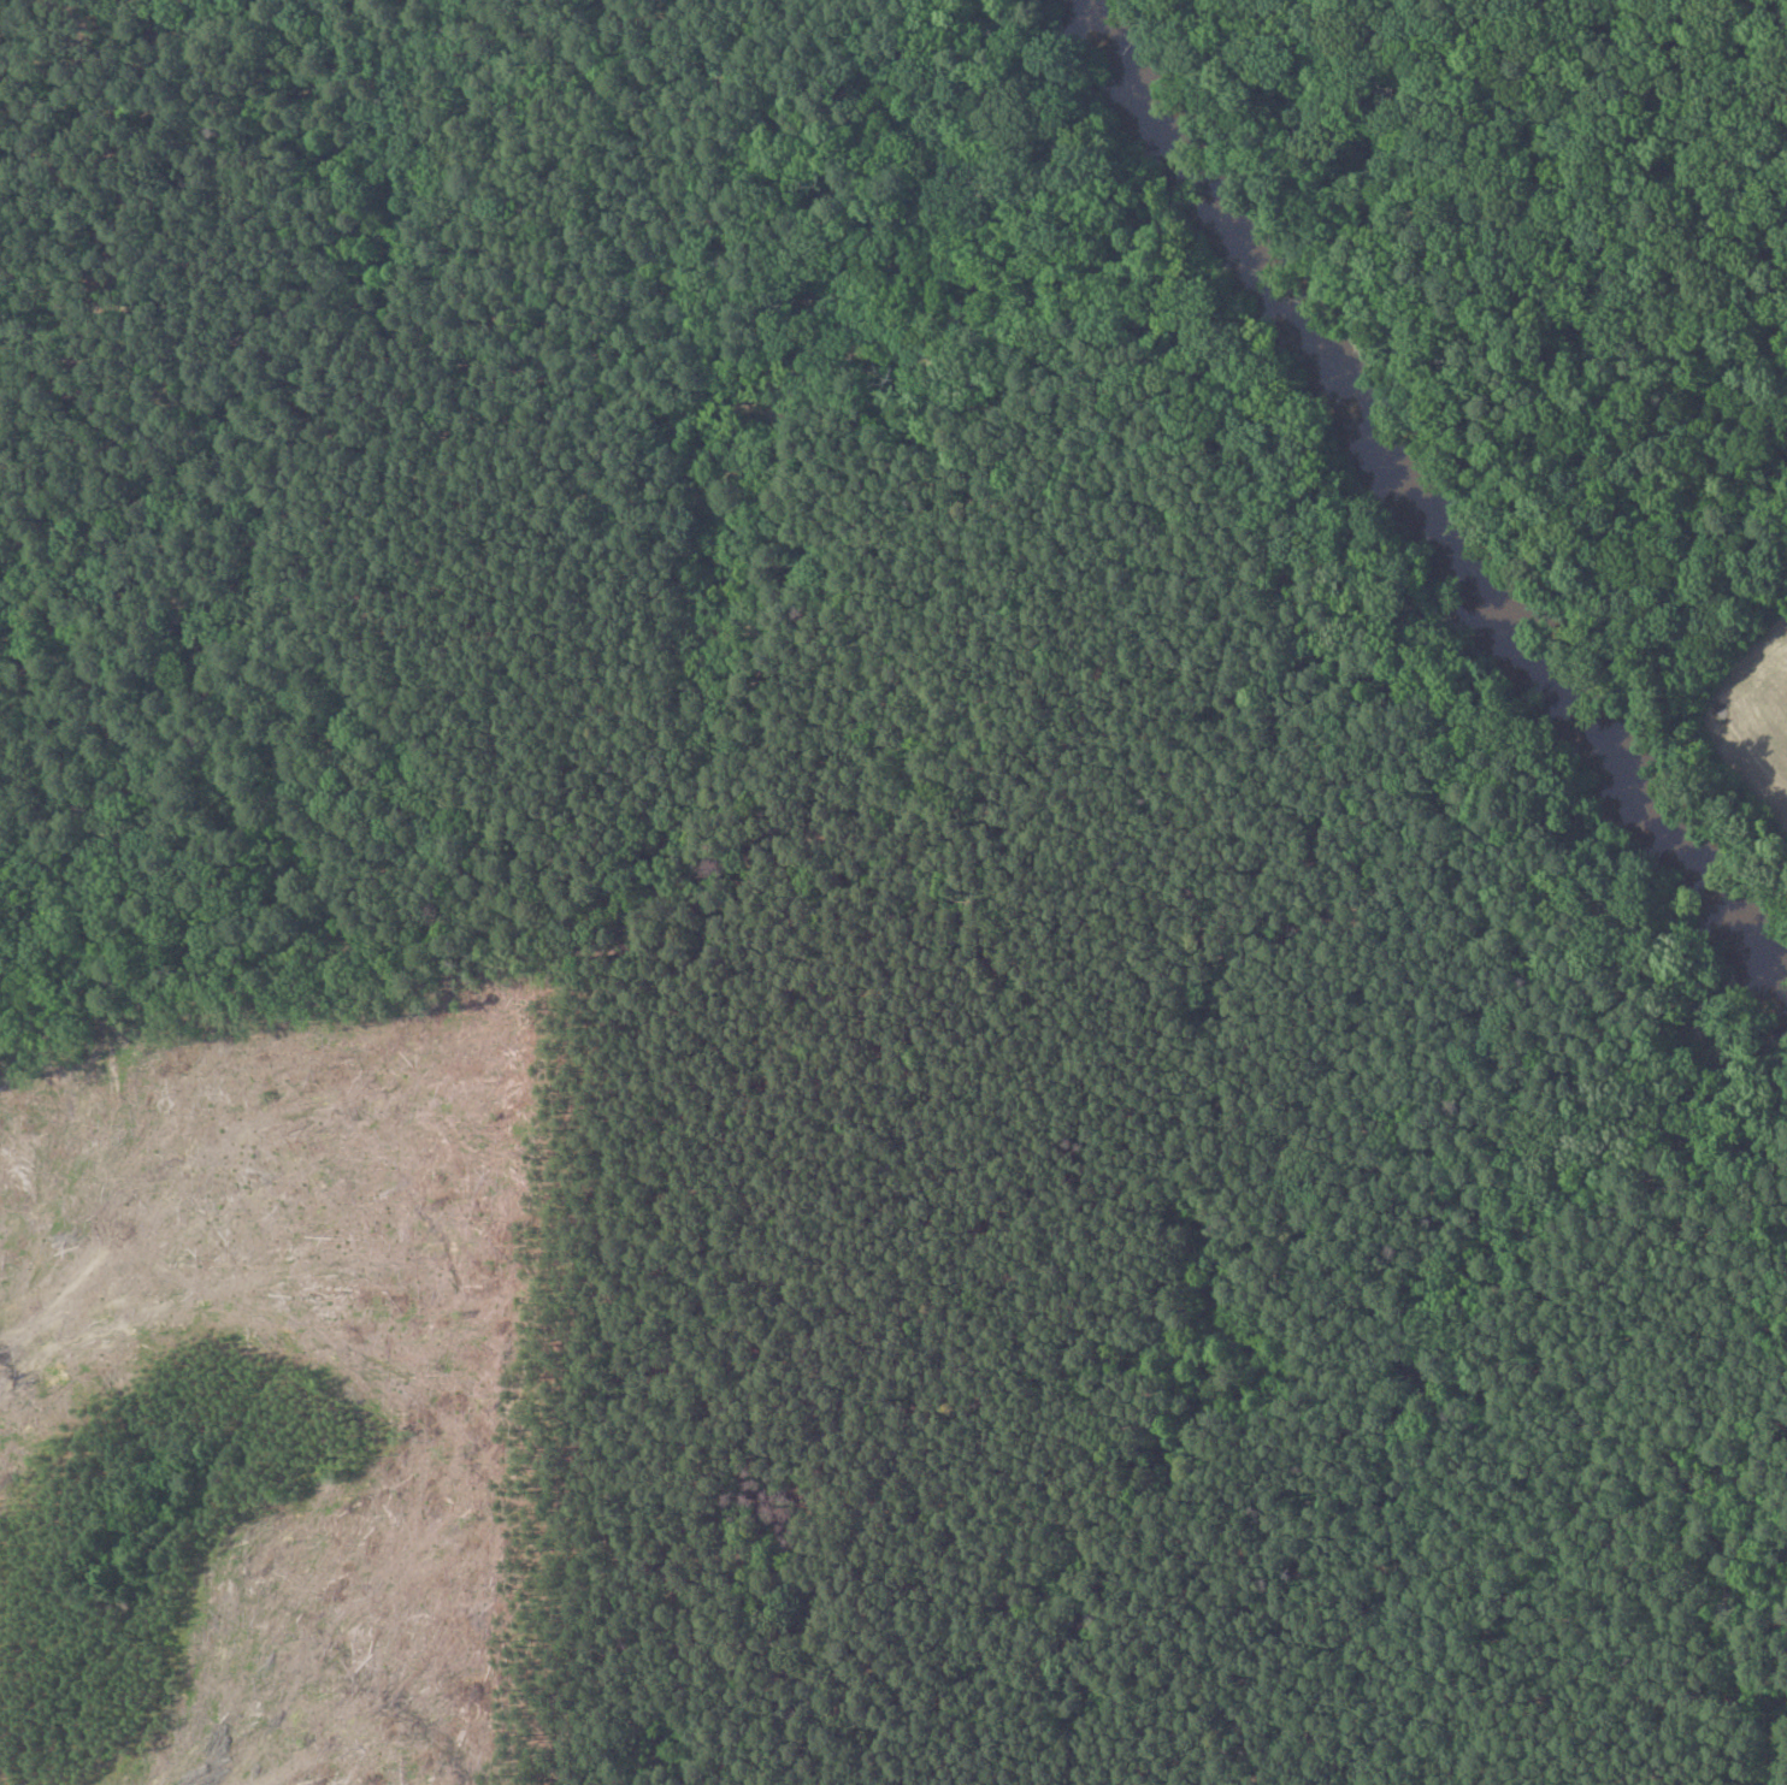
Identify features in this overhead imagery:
river: (1126, 37)
river: (1465, 521)

